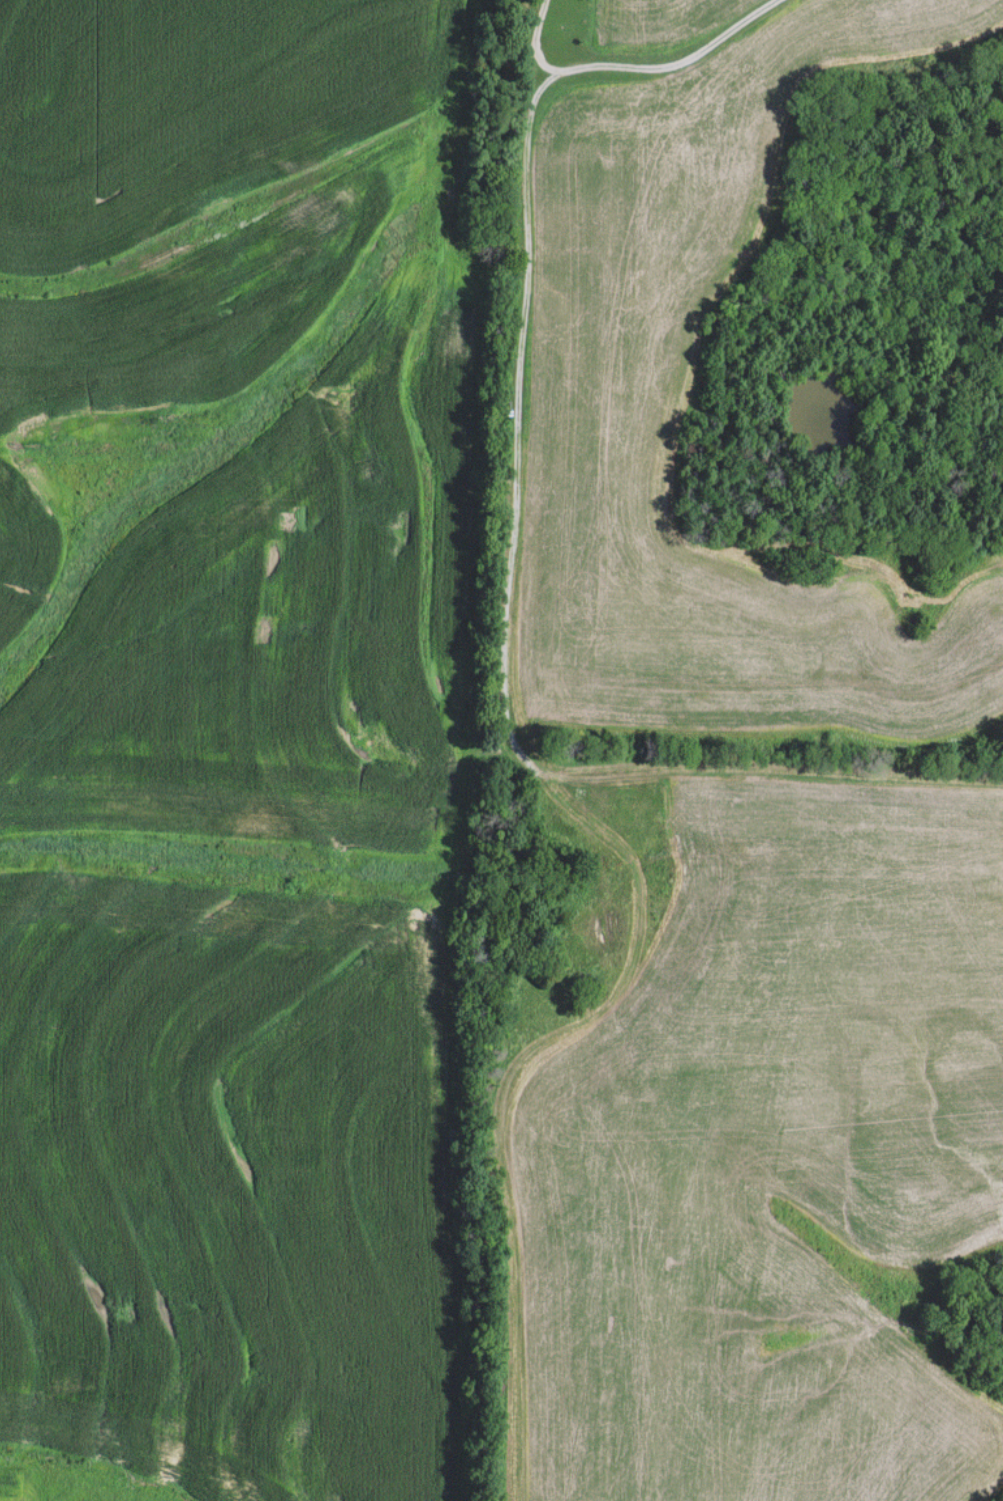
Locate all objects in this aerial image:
road: (508, 694)

